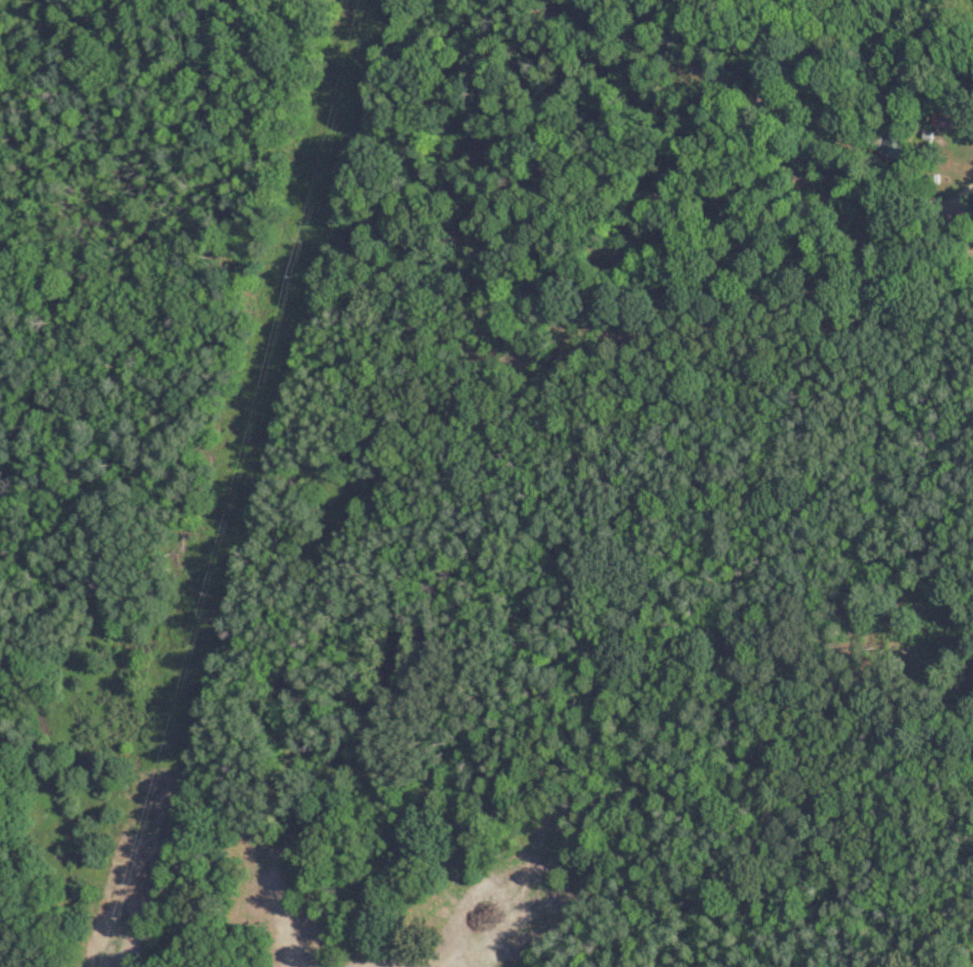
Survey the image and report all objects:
road: (767, 137)
road: (947, 870)

